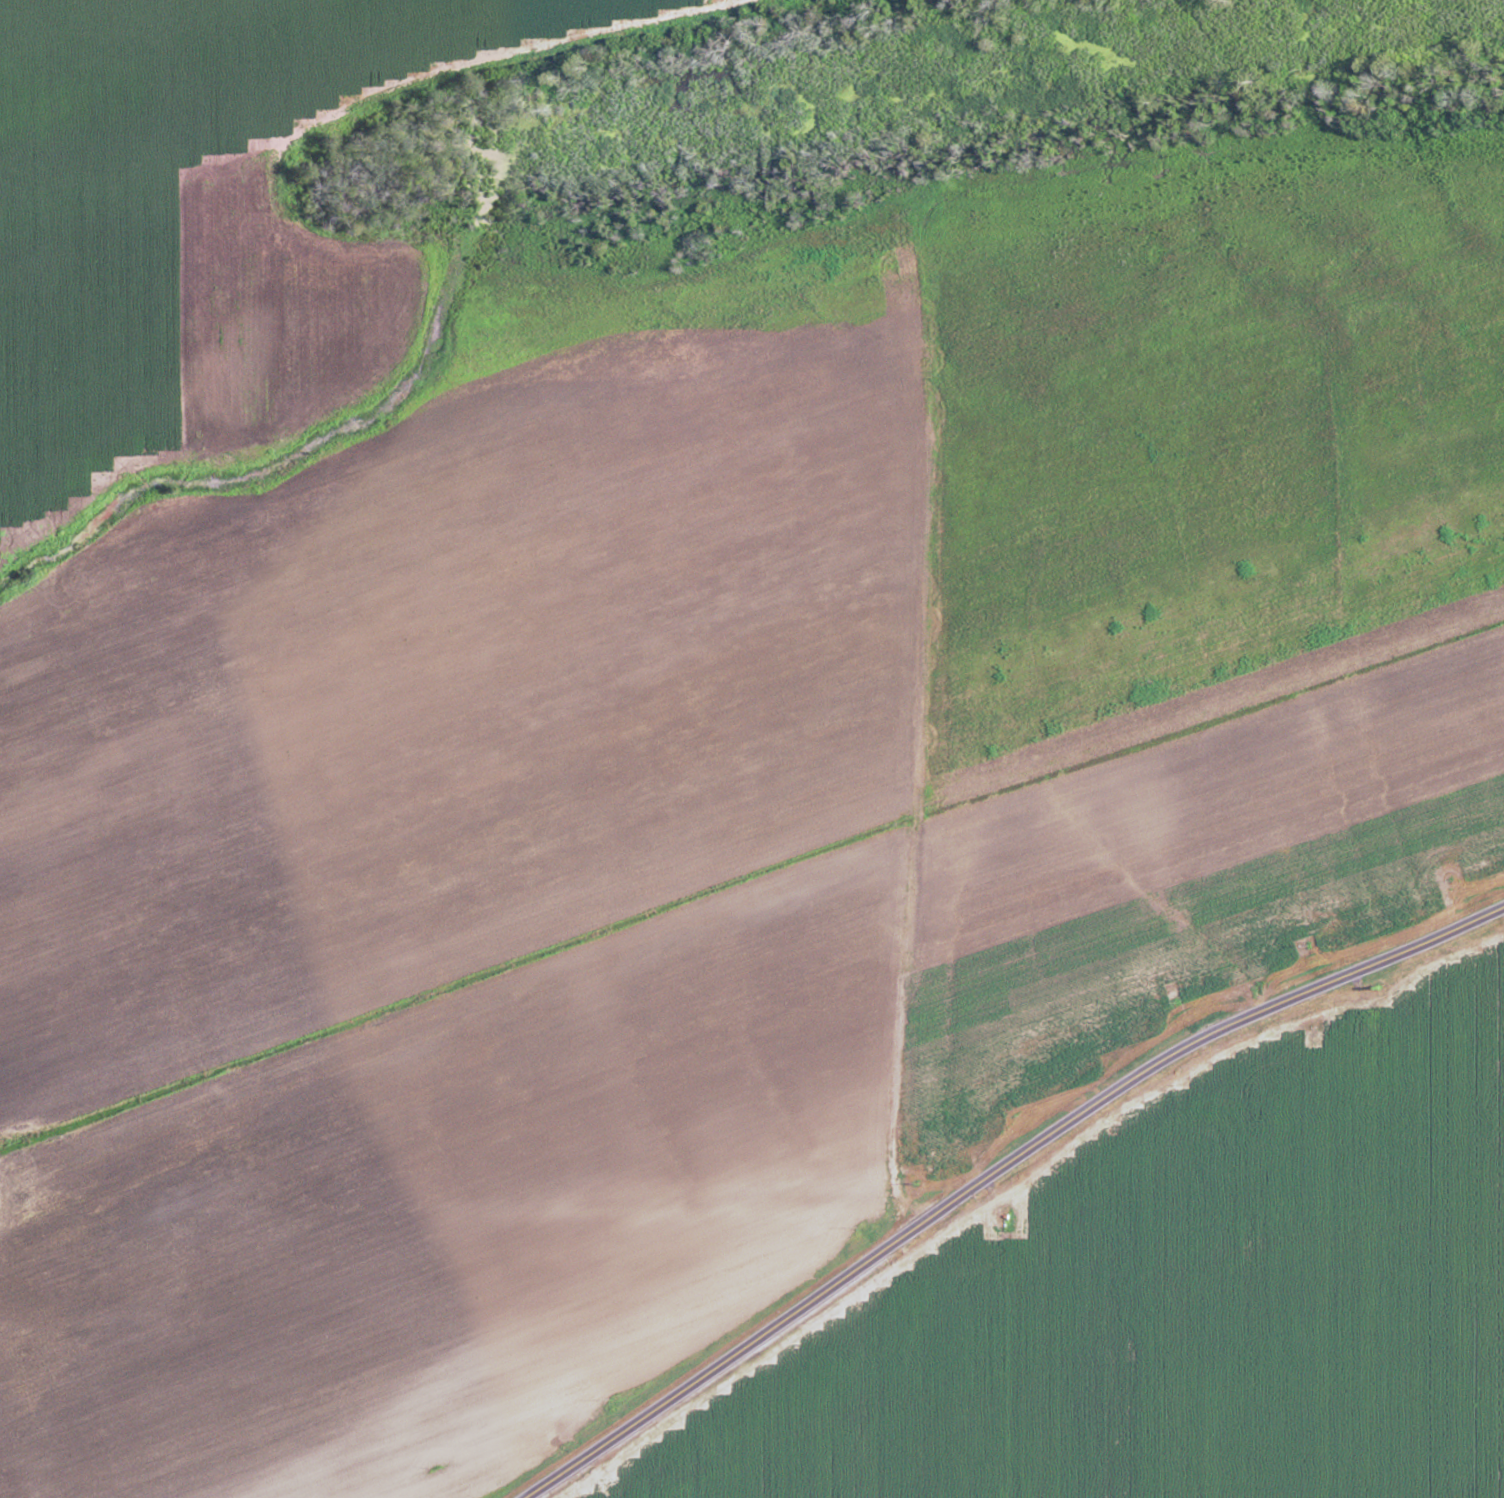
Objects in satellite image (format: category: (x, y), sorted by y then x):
road: (914, 817)
road: (997, 1173)

